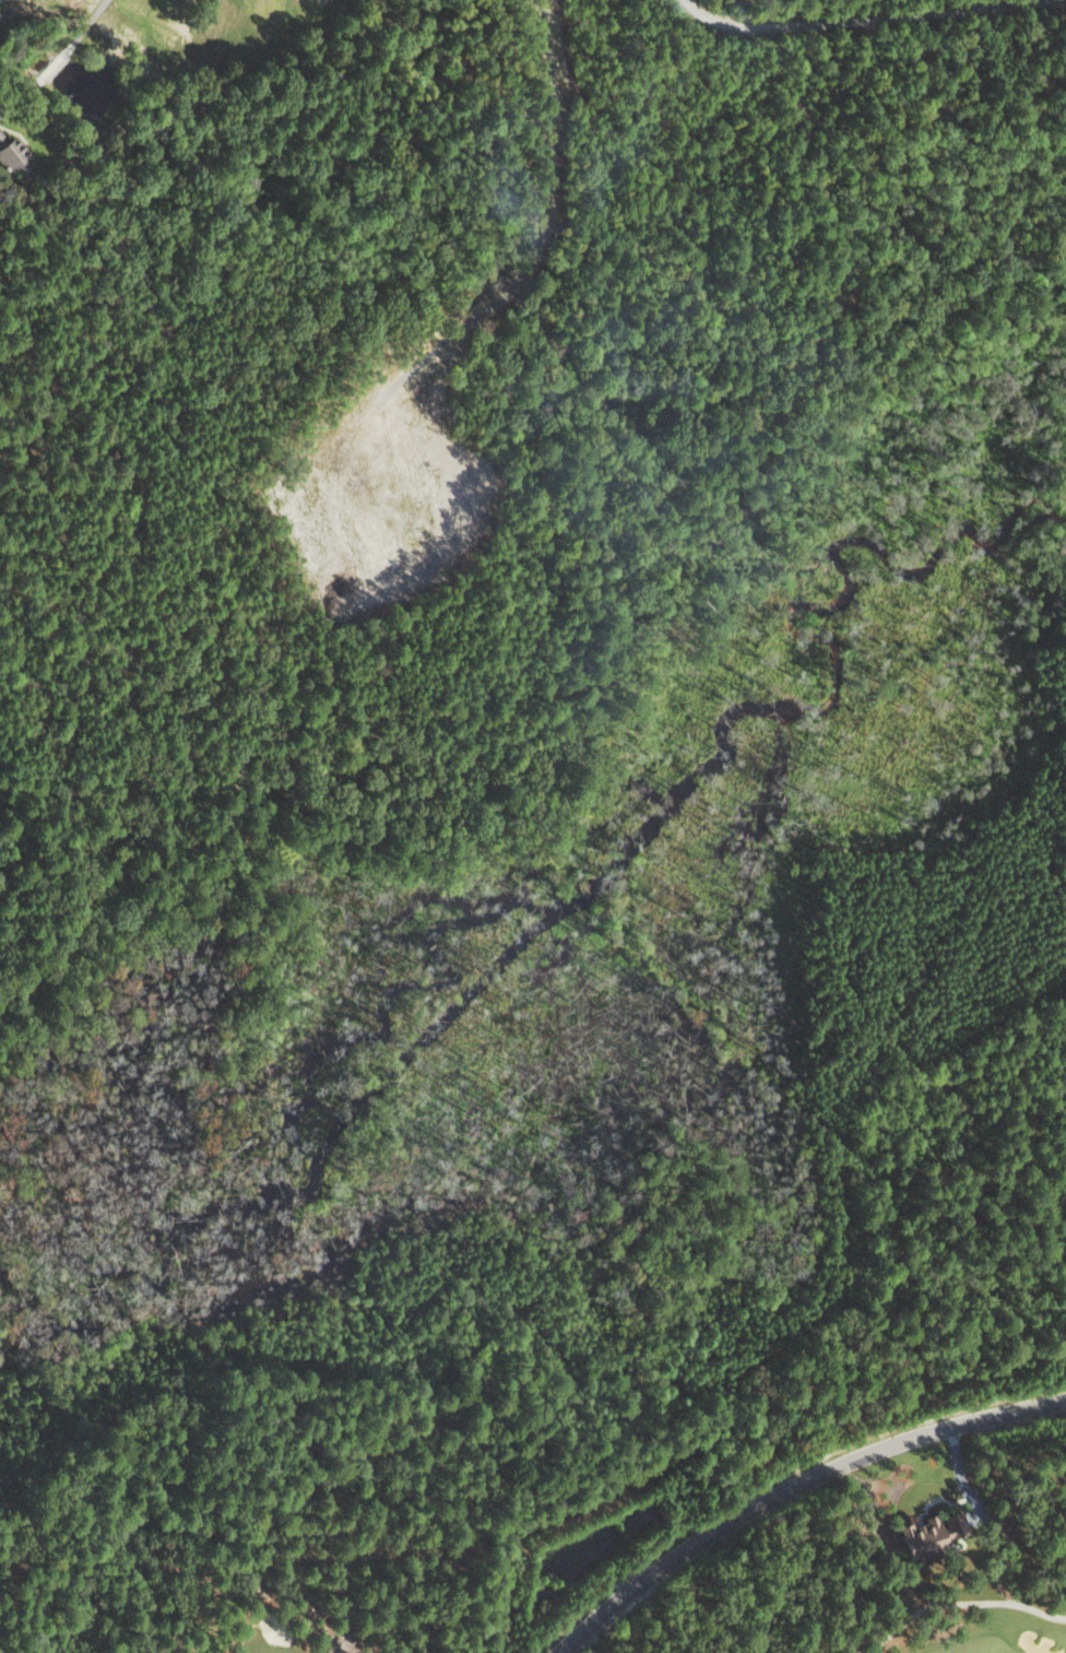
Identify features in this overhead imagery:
road: (872, 20)
road: (86, 24)
road: (55, 63)
road: (21, 95)
building: (12, 160)
road: (789, 1485)
building: (927, 1531)
park: (964, 1624)
park: (284, 1636)

